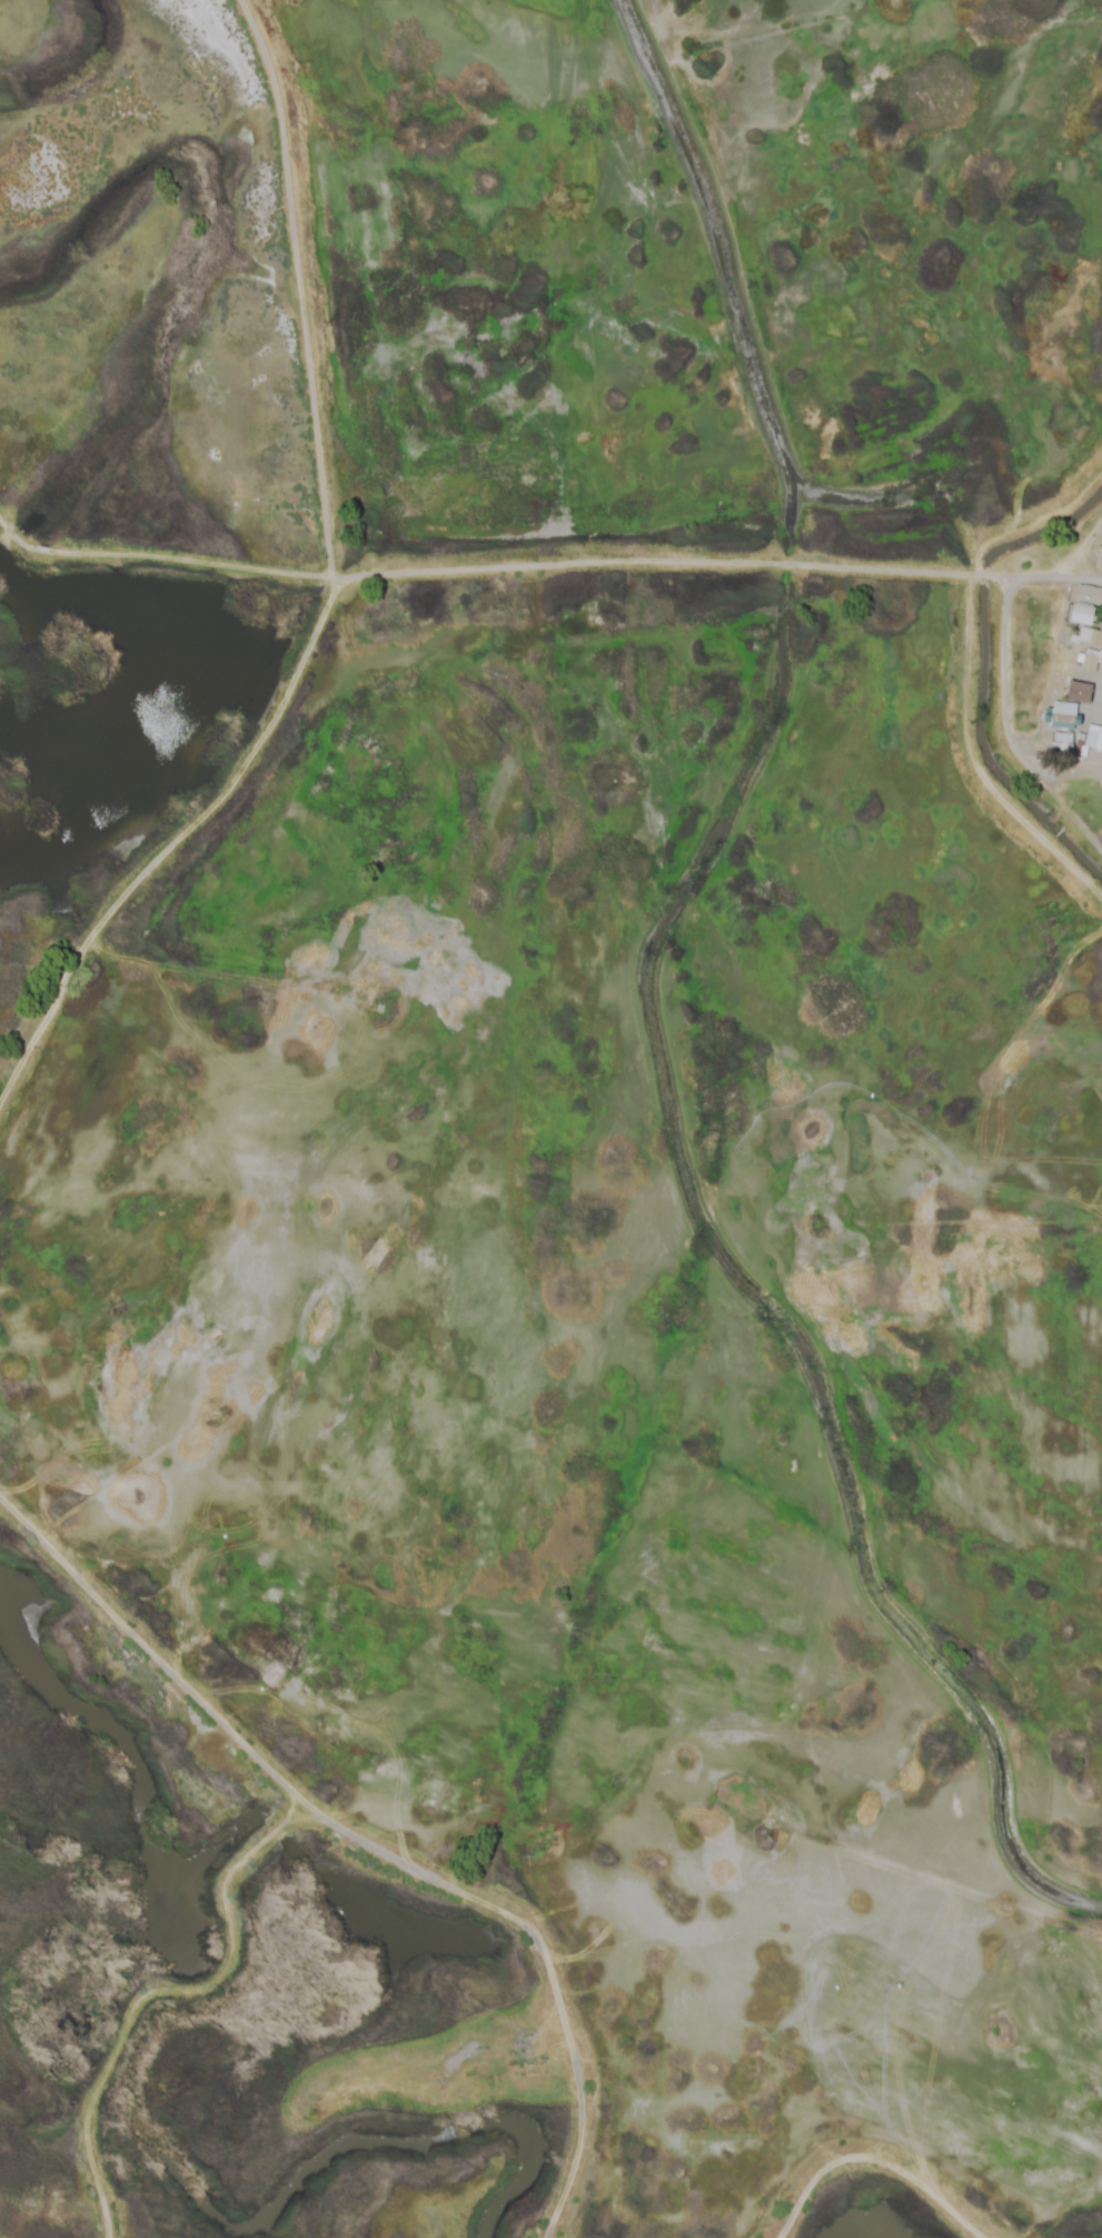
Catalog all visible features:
building: (1099, 559)
building: (1089, 594)
road: (996, 622)
building: (1083, 623)
building: (1089, 661)
building: (1078, 692)
building: (1063, 712)
building: (1061, 742)
building: (1093, 743)

